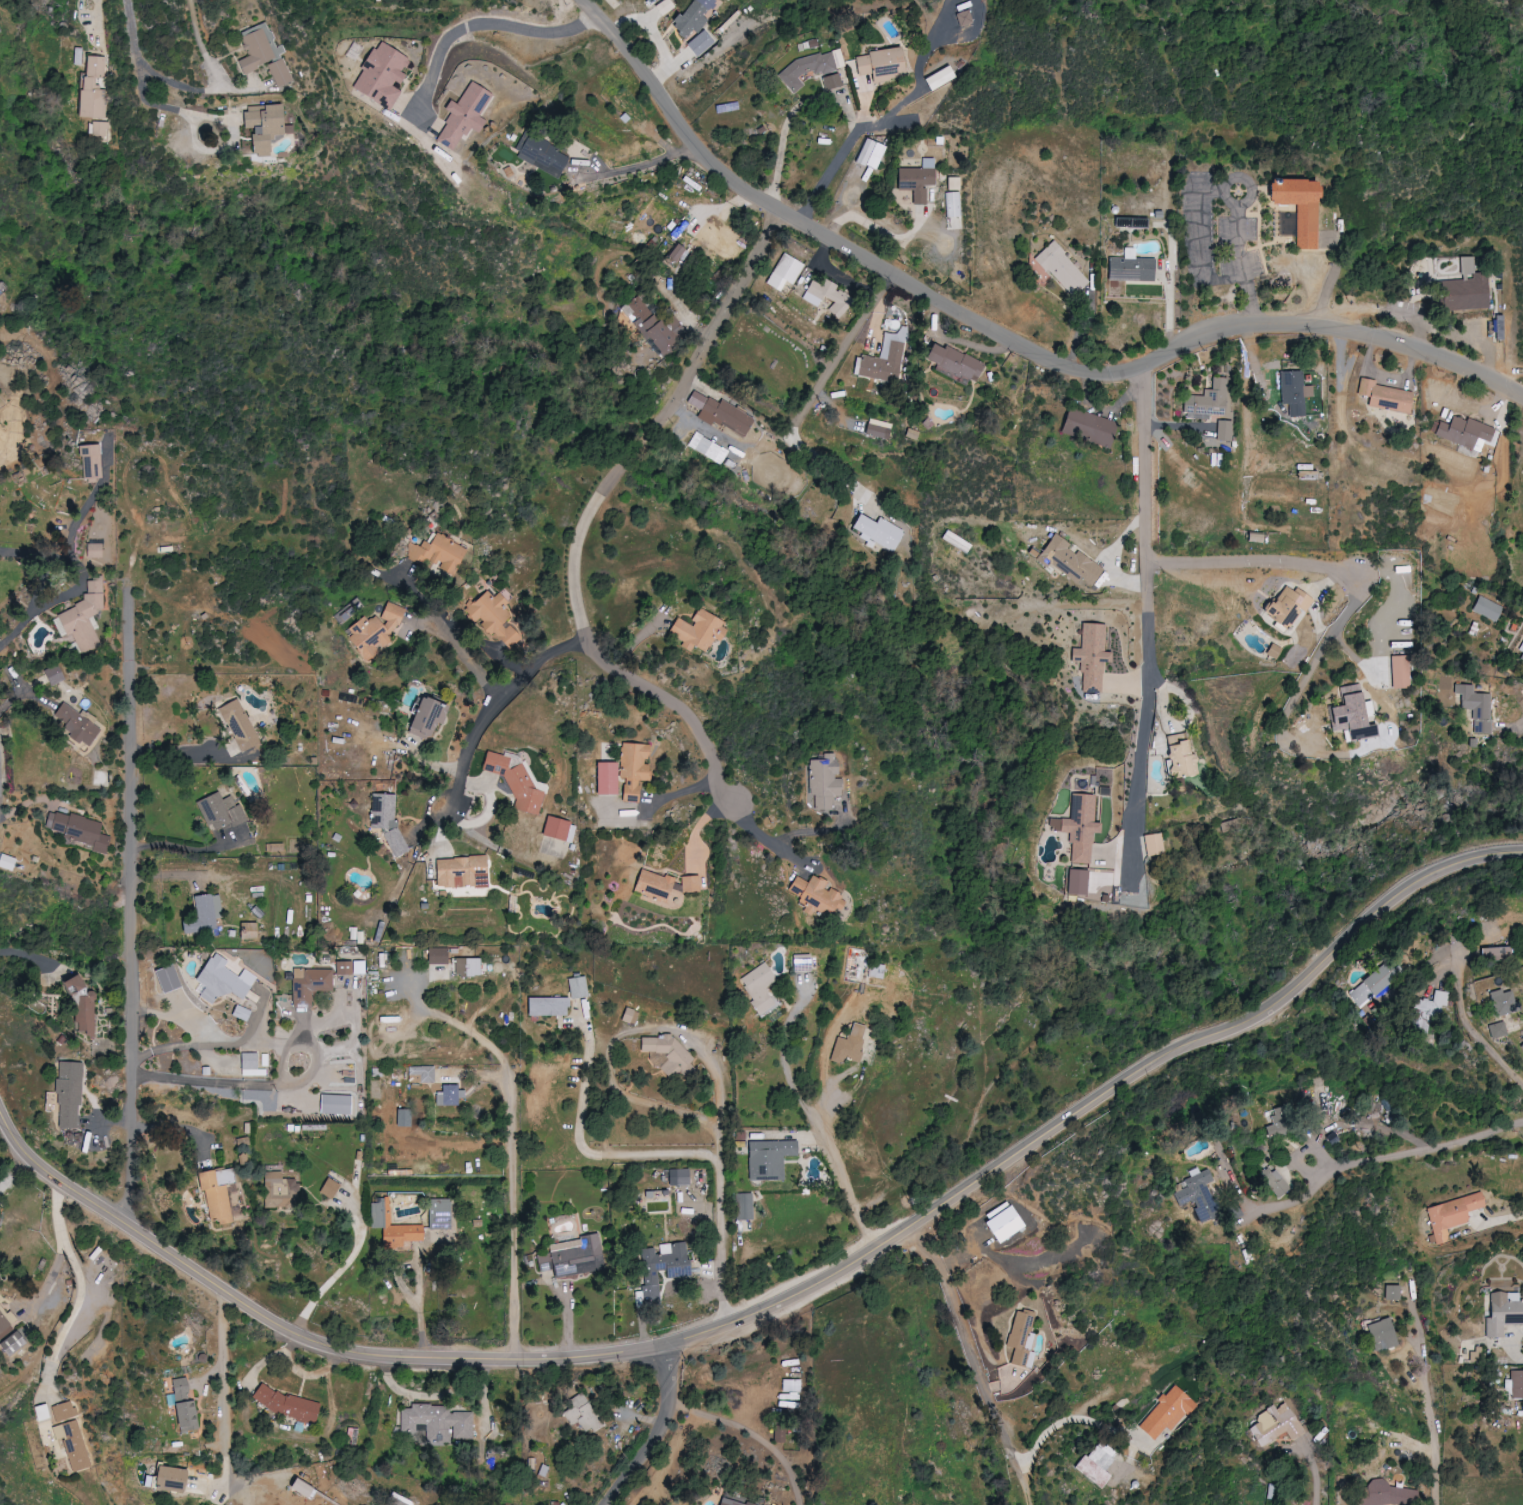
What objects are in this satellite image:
building: (693, 17)
building: (964, 18)
road: (482, 23)
building: (700, 43)
road: (102, 44)
building: (260, 49)
building: (880, 63)
building: (806, 69)
building: (279, 72)
building: (381, 76)
building: (938, 78)
building: (832, 81)
road: (191, 86)
building: (93, 88)
road: (150, 101)
road: (794, 114)
building: (463, 116)
road: (879, 122)
building: (261, 127)
building: (99, 128)
building: (869, 154)
building: (538, 156)
road: (634, 168)
building: (917, 180)
building: (954, 183)
building: (953, 204)
building: (1297, 206)
road: (872, 225)
building: (674, 254)
building: (1130, 267)
building: (1062, 269)
building: (784, 271)
building: (1465, 288)
building: (825, 296)
building: (0, 306)
building: (648, 323)
road: (1004, 338)
building: (954, 361)
building: (1294, 392)
road: (811, 397)
building: (1385, 397)
building: (1207, 401)
building: (721, 413)
building: (1088, 426)
building: (878, 428)
building: (1224, 430)
building: (708, 448)
building: (90, 460)
building: (1522, 472)
road: (92, 500)
road: (593, 512)
building: (877, 531)
building: (956, 541)
building: (93, 550)
building: (437, 553)
building: (1068, 561)
road: (1152, 561)
road: (81, 583)
building: (1286, 606)
building: (1486, 608)
building: (82, 617)
building: (492, 617)
building: (374, 631)
building: (698, 631)
road: (450, 635)
building: (1520, 654)
building: (1091, 656)
building: (1400, 672)
building: (53, 674)
road: (1149, 699)
road: (673, 707)
building: (1475, 707)
building: (1350, 716)
building: (424, 718)
building: (75, 724)
building: (238, 724)
road: (1512, 727)
road: (1305, 749)
road: (185, 753)
building: (1178, 756)
building: (633, 767)
building: (605, 778)
building: (823, 781)
building: (515, 783)
building: (221, 811)
building: (385, 817)
building: (1078, 827)
building: (77, 829)
building: (558, 829)
road: (786, 837)
building: (1152, 844)
road: (182, 845)
building: (7, 861)
building: (461, 872)
building: (689, 884)
building: (652, 885)
building: (815, 894)
road: (136, 896)
building: (204, 912)
building: (247, 930)
building: (1496, 953)
building: (437, 955)
building: (467, 967)
building: (343, 968)
building: (219, 982)
building: (311, 983)
building: (1373, 984)
building: (577, 987)
building: (758, 988)
building: (1503, 1002)
building: (547, 1006)
building: (81, 1009)
building: (1429, 1010)
building: (240, 1013)
building: (629, 1016)
road: (1464, 1018)
road: (638, 1029)
building: (1497, 1029)
road: (209, 1045)
building: (849, 1045)
building: (667, 1052)
building: (250, 1065)
road: (224, 1082)
building: (68, 1095)
building: (448, 1095)
road: (810, 1117)
road: (1414, 1149)
road: (674, 1153)
building: (768, 1159)
road: (518, 1166)
road: (18, 1175)
building: (678, 1177)
building: (1273, 1181)
building: (328, 1188)
building: (1198, 1196)
building: (213, 1197)
building: (744, 1206)
building: (438, 1214)
building: (1450, 1215)
building: (1002, 1224)
building: (392, 1227)
building: (571, 1257)
road: (343, 1268)
building: (677, 1273)
road: (83, 1287)
building: (1391, 1292)
road: (783, 1298)
building: (1502, 1312)
building: (6, 1323)
building: (1380, 1335)
building: (1475, 1356)
building: (1516, 1385)
road: (985, 1387)
road: (225, 1393)
building: (285, 1404)
road: (1430, 1410)
building: (63, 1411)
building: (40, 1412)
building: (582, 1413)
building: (1166, 1413)
building: (437, 1423)
building: (1275, 1425)
road: (658, 1428)
road: (752, 1433)
building: (72, 1444)
building: (1099, 1458)
building: (541, 1470)
road: (1315, 1471)
building: (1090, 1472)
building: (168, 1478)
building: (298, 1488)
building: (1384, 1494)
building: (729, 1502)

